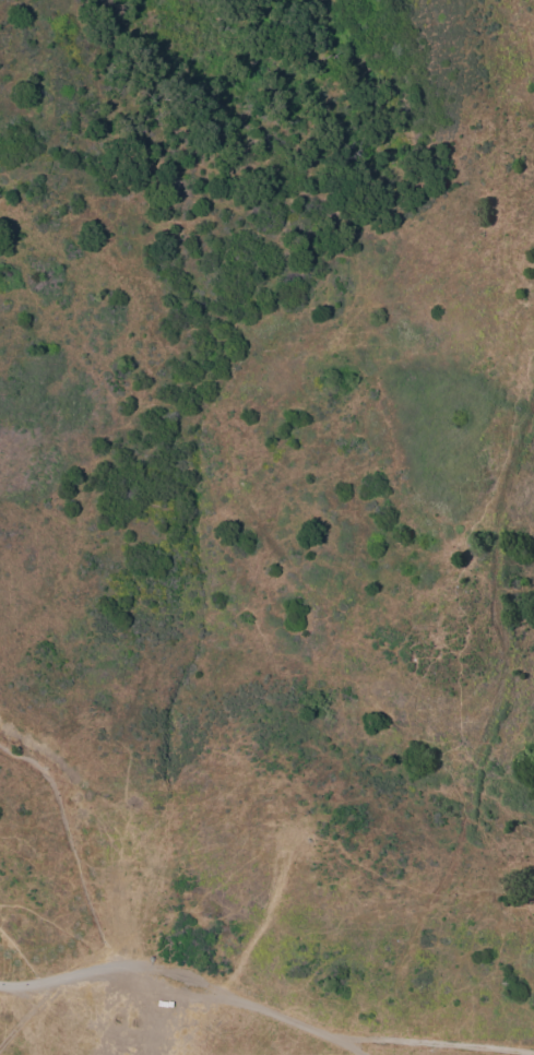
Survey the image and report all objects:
road: (248, 1003)

